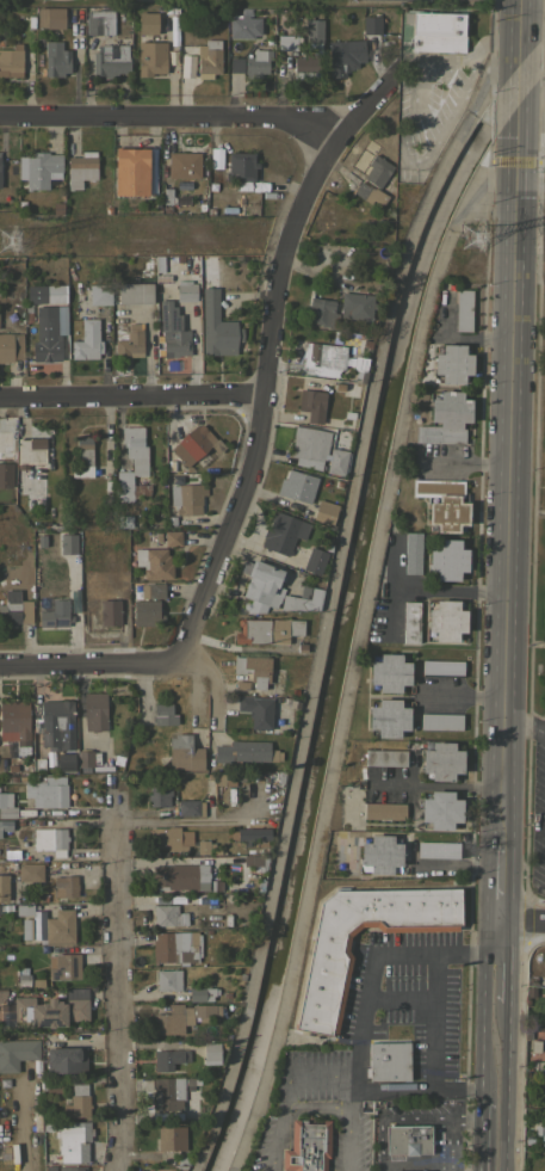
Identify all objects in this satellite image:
park: (236, 1)
parking lot: (463, 1)
building: (50, 17)
building: (99, 21)
road: (533, 21)
building: (147, 23)
building: (371, 24)
building: (243, 26)
road: (521, 29)
building: (312, 30)
building: (431, 30)
building: (286, 42)
building: (343, 55)
building: (150, 57)
building: (206, 58)
building: (10, 60)
building: (55, 60)
building: (110, 60)
building: (256, 62)
building: (305, 63)
building: (235, 64)
road: (520, 92)
road: (532, 92)
road: (171, 117)
road: (422, 159)
building: (182, 165)
building: (240, 166)
building: (38, 168)
building: (80, 168)
building: (130, 170)
building: (377, 172)
road: (519, 187)
building: (366, 196)
road: (532, 207)
power tower: (472, 242)
power tower: (12, 244)
building: (186, 290)
building: (45, 292)
building: (135, 292)
building: (100, 294)
building: (357, 306)
building: (464, 309)
building: (323, 312)
building: (217, 326)
building: (49, 331)
building: (173, 332)
building: (87, 340)
building: (130, 341)
building: (11, 345)
building: (322, 358)
road: (265, 362)
building: (452, 362)
road: (131, 397)
building: (311, 403)
building: (445, 419)
building: (5, 443)
building: (194, 444)
building: (310, 445)
building: (135, 449)
building: (30, 451)
building: (82, 455)
building: (97, 457)
building: (336, 461)
building: (6, 474)
building: (126, 486)
building: (297, 486)
building: (186, 498)
building: (445, 504)
building: (324, 511)
building: (283, 531)
building: (173, 537)
building: (68, 543)
road: (508, 548)
building: (411, 551)
building: (315, 559)
building: (447, 559)
building: (157, 563)
building: (262, 583)
road: (426, 586)
building: (153, 590)
road: (324, 596)
building: (302, 600)
building: (16, 609)
building: (110, 612)
building: (145, 612)
building: (55, 614)
building: (446, 620)
building: (410, 621)
building: (267, 630)
road: (352, 652)
road: (88, 665)
building: (442, 667)
building: (254, 668)
building: (389, 672)
road: (463, 695)
building: (94, 710)
building: (256, 711)
building: (162, 714)
building: (388, 717)
building: (14, 720)
building: (440, 721)
building: (54, 723)
road: (524, 728)
building: (243, 751)
building: (185, 753)
building: (385, 757)
building: (85, 759)
building: (442, 760)
building: (64, 762)
building: (38, 765)
building: (100, 768)
road: (435, 785)
building: (45, 790)
building: (159, 795)
building: (7, 805)
building: (190, 807)
building: (440, 809)
building: (384, 811)
road: (173, 820)
building: (6, 824)
building: (249, 834)
building: (171, 838)
building: (50, 839)
building: (438, 849)
building: (380, 853)
building: (30, 871)
building: (180, 876)
road: (498, 882)
building: (63, 886)
building: (4, 887)
building: (23, 908)
building: (168, 916)
road: (521, 918)
building: (60, 926)
building: (25, 929)
building: (176, 947)
road: (373, 953)
building: (63, 966)
road: (495, 966)
building: (21, 976)
building: (167, 979)
road: (111, 980)
building: (36, 984)
building: (323, 992)
building: (199, 994)
building: (52, 1009)
building: (182, 1016)
road: (434, 1021)
building: (17, 1052)
road: (494, 1052)
building: (210, 1054)
building: (169, 1058)
building: (66, 1059)
building: (388, 1060)
building: (52, 1085)
road: (416, 1090)
road: (283, 1091)
building: (167, 1092)
road: (493, 1096)
building: (78, 1102)
building: (187, 1102)
road: (345, 1105)
road: (448, 1122)
building: (540, 1132)
road: (491, 1136)
building: (171, 1138)
building: (408, 1139)
building: (73, 1140)
building: (306, 1146)
building: (74, 1167)
building: (142, 1170)
building: (145, 1170)
road: (466, 1170)

